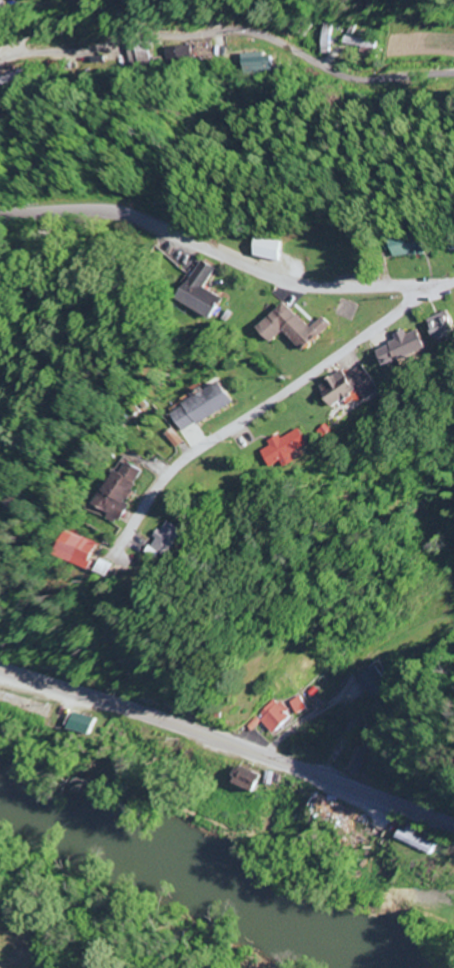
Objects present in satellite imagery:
building: (6, 6)
road: (50, 25)
road: (231, 32)
building: (257, 63)
building: (417, 246)
building: (279, 250)
road: (225, 258)
building: (204, 293)
building: (443, 326)
building: (295, 328)
building: (404, 348)
building: (349, 387)
road: (264, 406)
building: (209, 407)
building: (288, 449)
building: (122, 493)
building: (170, 542)
building: (84, 551)
road: (346, 674)
building: (300, 707)
building: (274, 718)
building: (85, 724)
road: (229, 746)
building: (337, 812)
building: (412, 843)
river: (192, 890)

